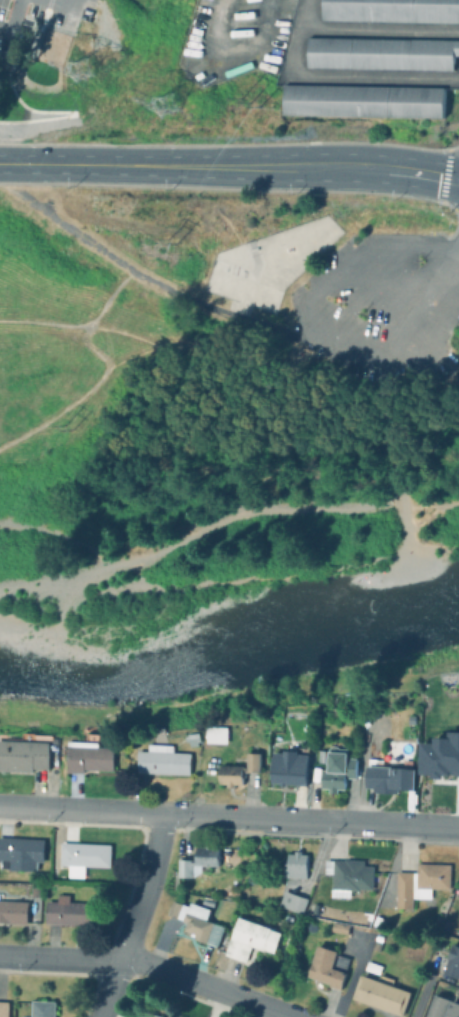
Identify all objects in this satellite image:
road: (66, 2)
building: (391, 10)
road: (15, 20)
building: (381, 53)
power tower: (51, 87)
building: (363, 101)
power tower: (140, 118)
road: (230, 166)
road: (456, 250)
park: (265, 265)
road: (379, 280)
road: (405, 292)
road: (236, 315)
road: (44, 323)
road: (357, 326)
road: (311, 342)
road: (103, 377)
park: (217, 411)
river: (231, 657)
building: (216, 734)
building: (192, 739)
building: (23, 755)
building: (89, 755)
building: (440, 755)
building: (162, 760)
building: (288, 766)
building: (338, 768)
building: (237, 771)
building: (385, 775)
building: (314, 776)
road: (229, 817)
building: (20, 853)
building: (83, 857)
building: (197, 861)
building: (294, 865)
building: (348, 876)
building: (420, 883)
building: (206, 900)
building: (292, 902)
building: (12, 912)
building: (68, 912)
road: (136, 917)
building: (195, 921)
building: (376, 921)
building: (250, 938)
building: (452, 961)
road: (148, 966)
building: (327, 967)
building: (371, 968)
building: (381, 994)
building: (437, 1006)
building: (3, 1009)
building: (42, 1009)
building: (453, 1009)
building: (146, 1015)
building: (21, 1016)

